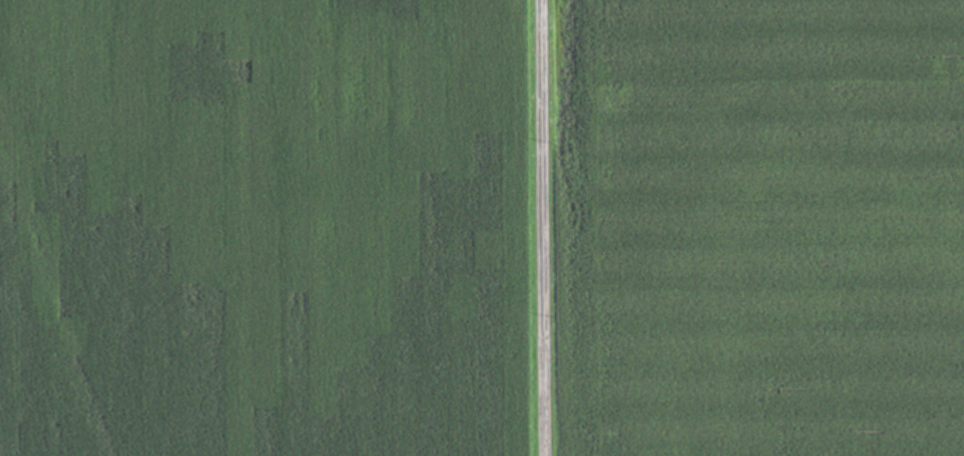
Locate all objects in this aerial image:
road: (544, 228)

